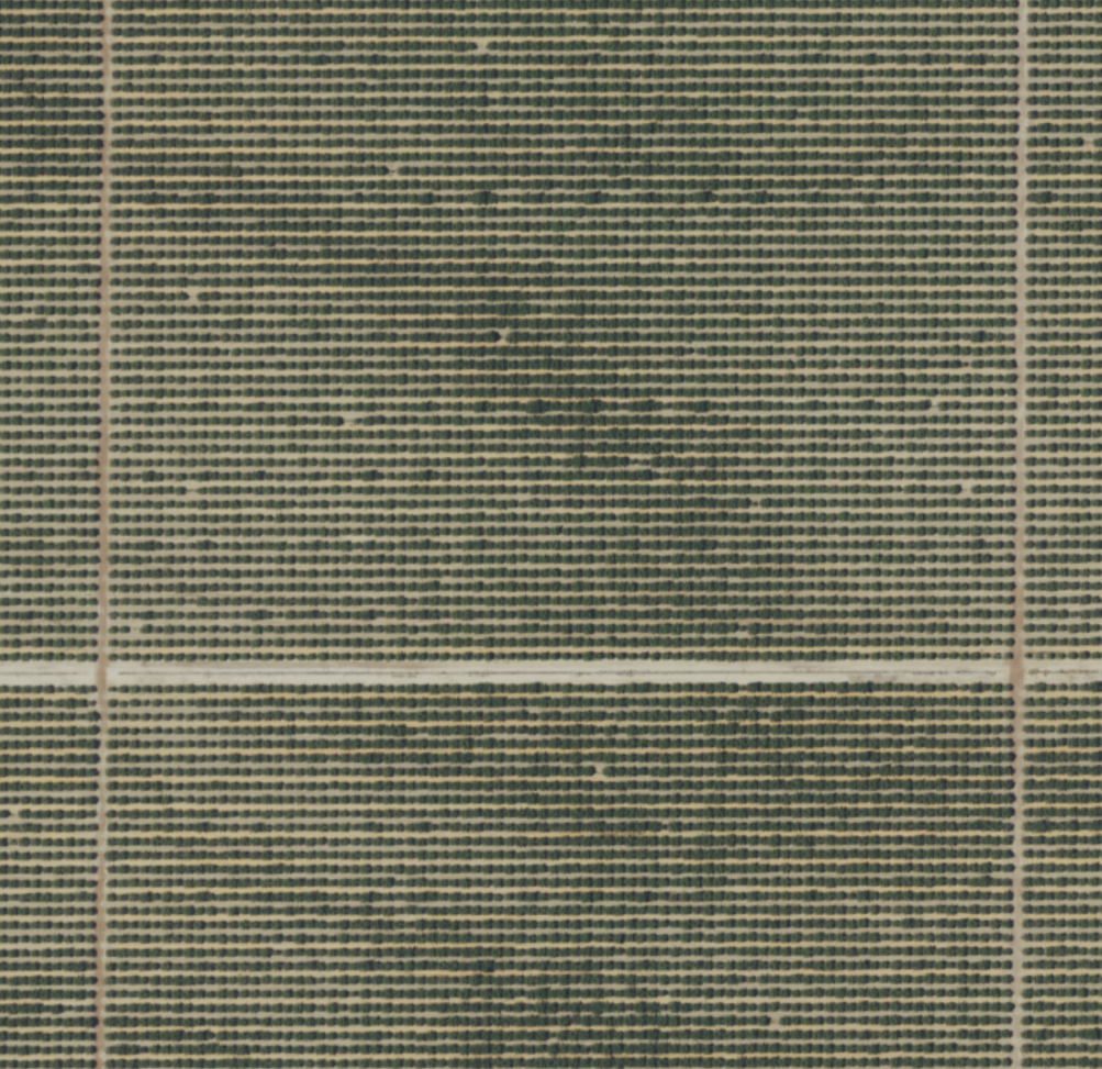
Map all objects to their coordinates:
road: (92, 534)
road: (1006, 534)
road: (550, 671)

